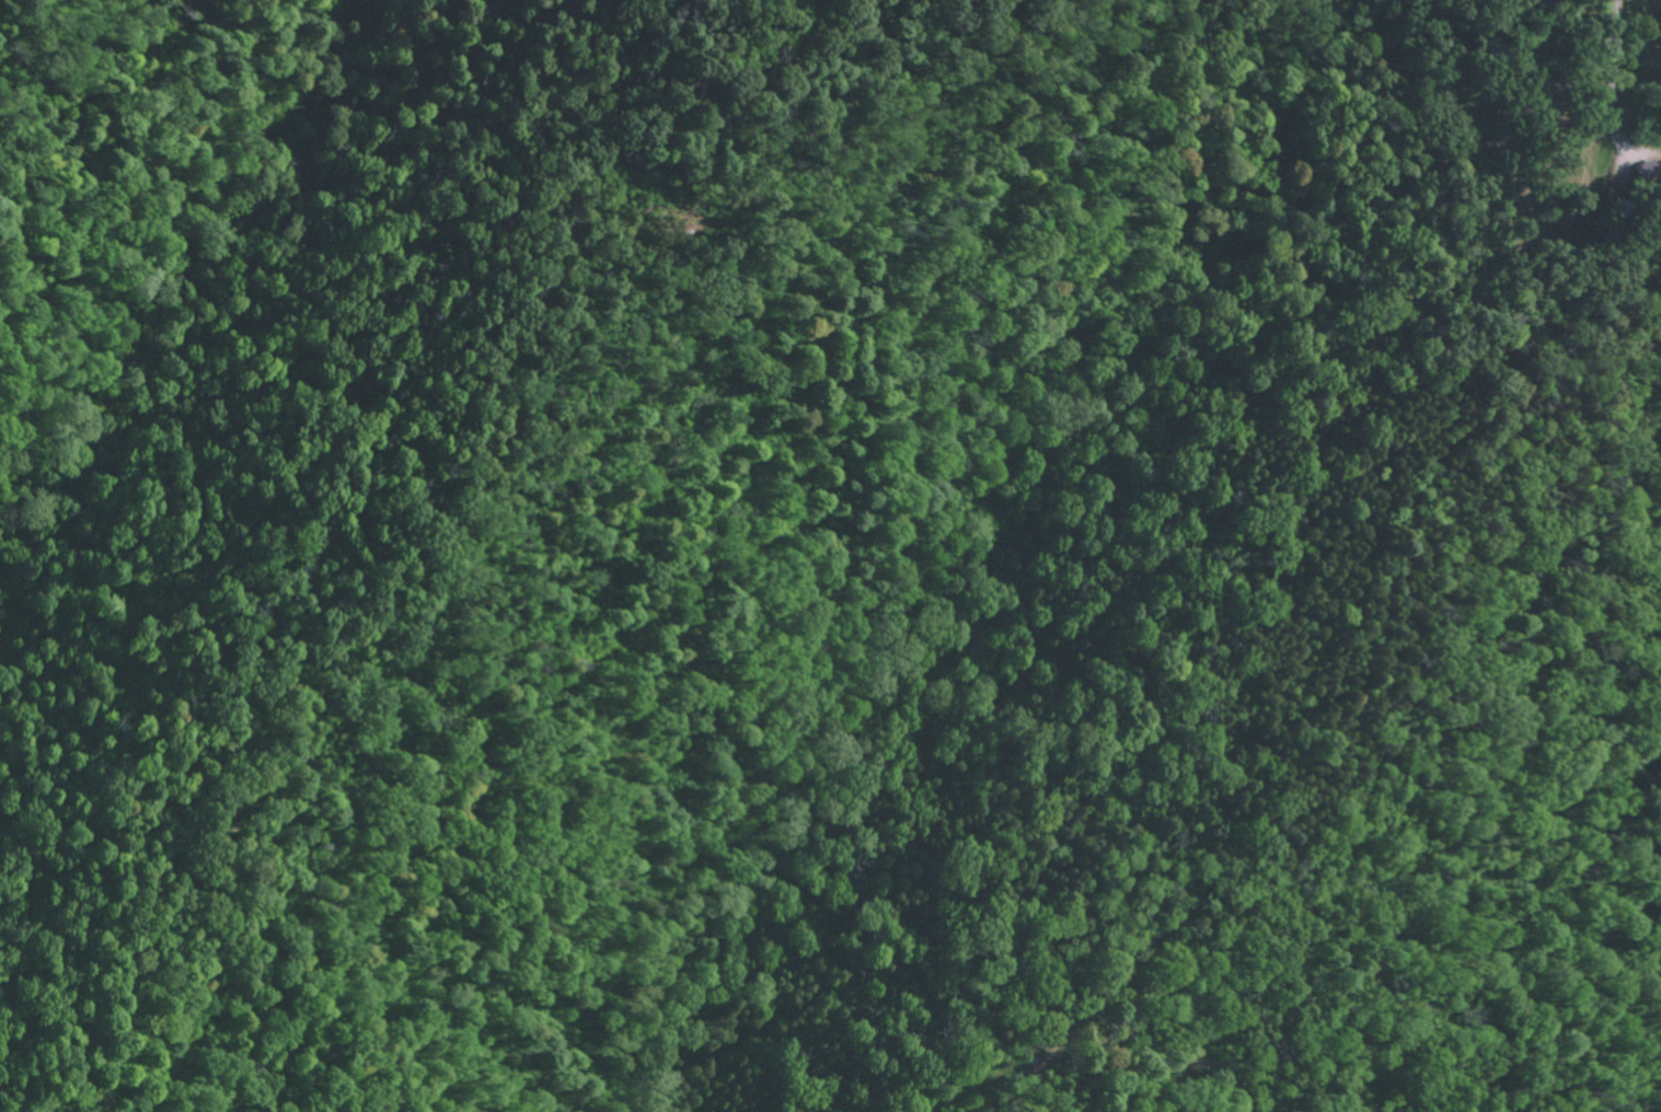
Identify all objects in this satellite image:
road: (1612, 66)

